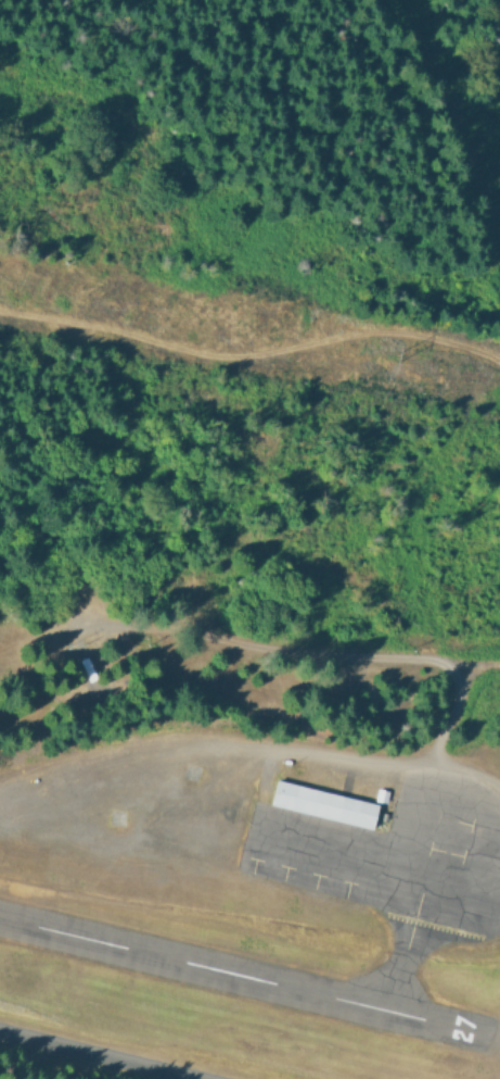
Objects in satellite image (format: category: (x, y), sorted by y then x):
road: (249, 355)
road: (292, 650)
road: (454, 712)
road: (389, 760)
building: (319, 803)
airport: (266, 894)
airport runway: (246, 976)
road: (90, 1055)

